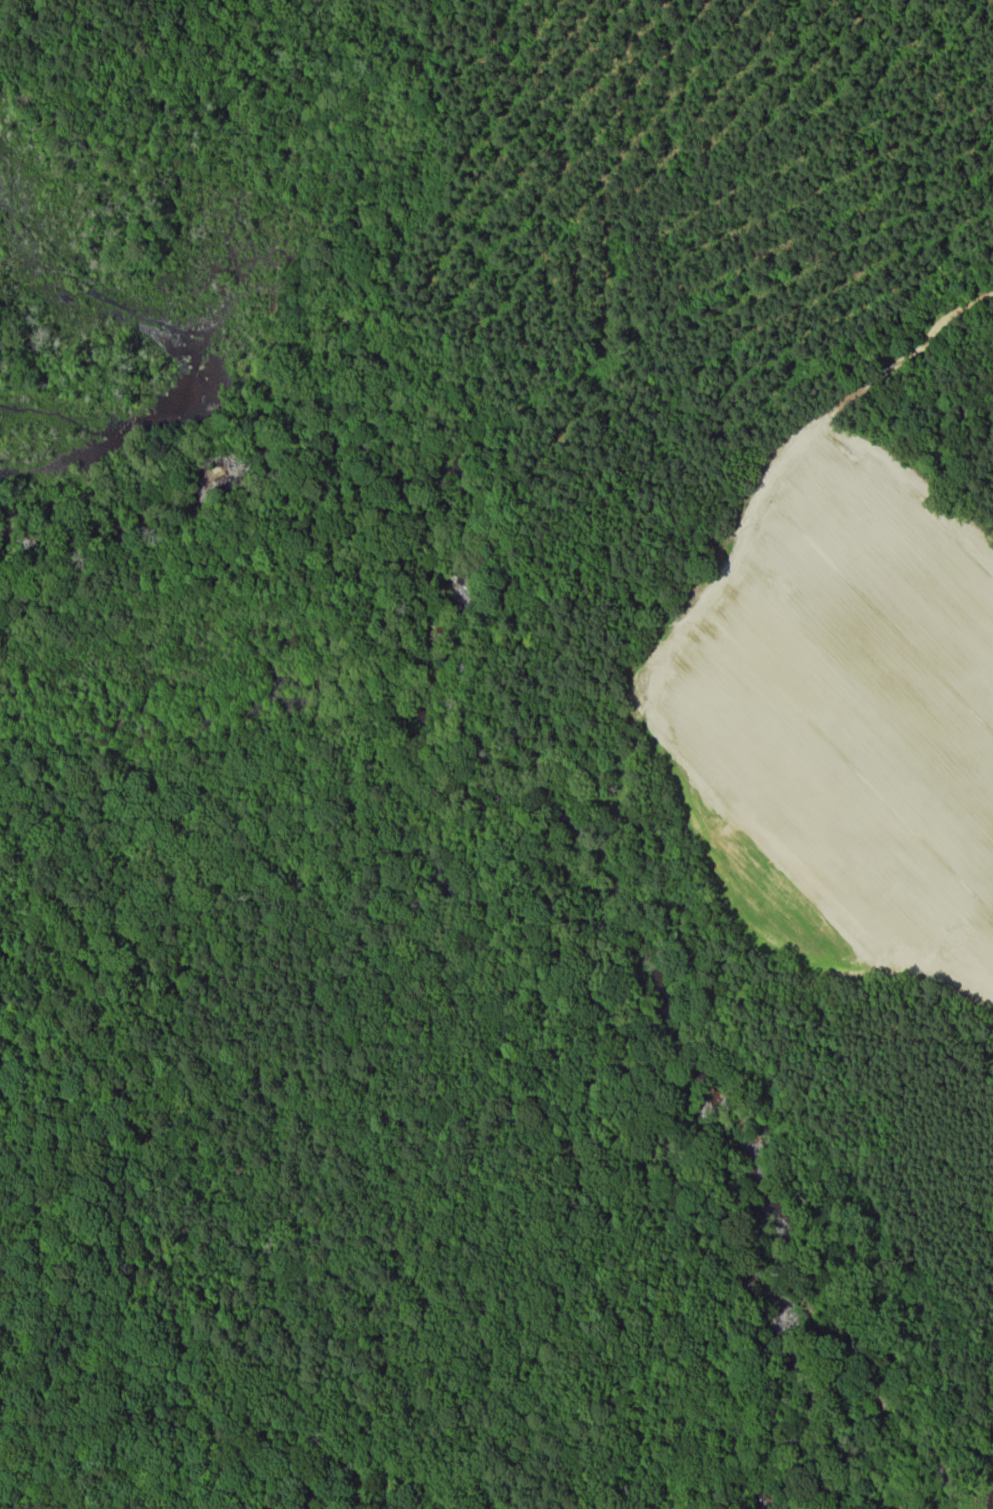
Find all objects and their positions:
river: (497, 788)

